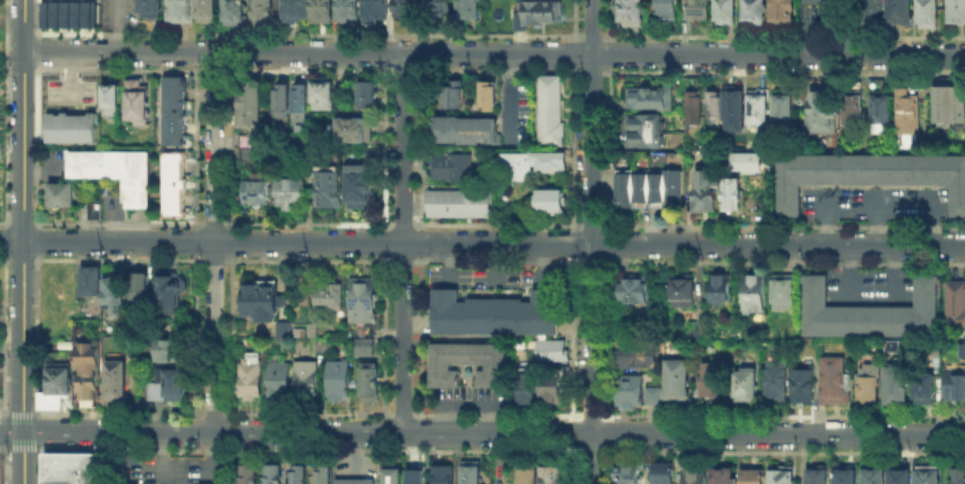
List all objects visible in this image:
building: (827, 1)
building: (148, 7)
building: (440, 7)
building: (350, 9)
building: (407, 9)
building: (469, 9)
building: (874, 9)
building: (207, 10)
building: (295, 10)
building: (323, 10)
building: (377, 10)
building: (782, 10)
building: (699, 11)
building: (754, 11)
building: (901, 11)
building: (180, 12)
building: (541, 12)
building: (957, 12)
building: (67, 13)
building: (263, 13)
building: (632, 13)
building: (669, 13)
building: (726, 13)
building: (235, 14)
building: (930, 15)
road: (573, 20)
road: (610, 20)
road: (115, 26)
road: (27, 32)
road: (306, 33)
road: (590, 34)
road: (782, 34)
park: (2, 39)
road: (494, 53)
road: (573, 53)
road: (609, 54)
street lamp: (4, 60)
road: (27, 70)
road: (117, 70)
road: (212, 70)
road: (307, 70)
road: (401, 70)
road: (496, 70)
road: (590, 70)
road: (782, 70)
building: (324, 95)
building: (368, 95)
building: (490, 95)
building: (454, 96)
building: (109, 98)
building: (649, 98)
building: (135, 99)
building: (693, 102)
building: (284, 103)
building: (302, 103)
building: (249, 104)
building: (734, 104)
building: (951, 105)
building: (715, 107)
building: (549, 108)
building: (824, 108)
building: (854, 109)
building: (172, 110)
building: (759, 110)
building: (785, 110)
building: (883, 110)
building: (908, 114)
building: (70, 126)
building: (353, 128)
building: (468, 128)
building: (655, 132)
building: (245, 139)
road: (572, 147)
road: (609, 148)
building: (246, 152)
building: (376, 156)
building: (309, 157)
building: (547, 160)
building: (626, 160)
building: (744, 161)
building: (451, 164)
building: (768, 167)
building: (118, 174)
building: (867, 174)
building: (329, 186)
building: (176, 187)
building: (649, 187)
building: (362, 188)
building: (294, 192)
building: (704, 193)
building: (255, 194)
building: (732, 196)
building: (64, 197)
building: (550, 199)
parking lot: (875, 201)
building: (459, 202)
building: (92, 210)
building: (98, 214)
road: (826, 216)
road: (876, 216)
road: (929, 217)
road: (28, 222)
road: (118, 222)
road: (214, 223)
road: (308, 223)
road: (403, 224)
road: (497, 224)
road: (591, 225)
road: (782, 225)
road: (11, 239)
road: (215, 241)
road: (494, 241)
road: (23, 242)
road: (403, 242)
road: (592, 242)
road: (572, 243)
road: (609, 243)
road: (27, 259)
road: (118, 259)
road: (213, 260)
road: (308, 260)
road: (403, 260)
road: (496, 260)
road: (592, 260)
road: (784, 261)
building: (92, 281)
building: (142, 288)
parking lot: (870, 289)
building: (172, 290)
building: (635, 290)
building: (684, 291)
building: (722, 291)
building: (785, 294)
building: (755, 295)
building: (116, 297)
building: (330, 298)
building: (264, 300)
building: (363, 302)
building: (957, 308)
building: (869, 310)
building: (494, 313)
building: (697, 331)
building: (285, 332)
road: (571, 337)
road: (607, 337)
building: (68, 346)
building: (364, 348)
building: (902, 349)
building: (961, 351)
building: (171, 352)
building: (554, 353)
building: (639, 357)
building: (470, 365)
building: (90, 372)
building: (252, 379)
building: (281, 379)
building: (308, 381)
building: (679, 381)
building: (709, 381)
building: (339, 382)
building: (119, 383)
building: (372, 383)
building: (776, 383)
building: (836, 383)
building: (745, 384)
building: (804, 385)
building: (870, 385)
building: (896, 385)
building: (925, 385)
building: (956, 385)
building: (170, 387)
building: (57, 388)
building: (526, 389)
building: (554, 391)
building: (637, 394)
road: (3, 411)
road: (116, 411)
road: (210, 411)
road: (18, 412)
road: (305, 412)
road: (400, 413)
road: (494, 413)
road: (588, 414)
road: (781, 415)
road: (482, 432)
road: (571, 432)
road: (604, 432)
road: (21, 447)
road: (4, 448)
road: (307, 448)
road: (587, 449)
road: (780, 449)
road: (571, 464)
road: (602, 464)
building: (74, 470)
building: (629, 472)
building: (665, 472)
building: (527, 474)
building: (783, 474)
building: (250, 475)
building: (476, 475)
building: (720, 475)
building: (847, 475)
building: (902, 475)
building: (929, 475)
building: (275, 476)
building: (301, 476)
building: (444, 476)
building: (553, 476)
building: (325, 477)
building: (394, 477)
building: (694, 477)
building: (754, 477)
building: (818, 477)
building: (417, 478)
building: (876, 478)
building: (960, 478)
building: (356, 482)
building: (214, 483)

